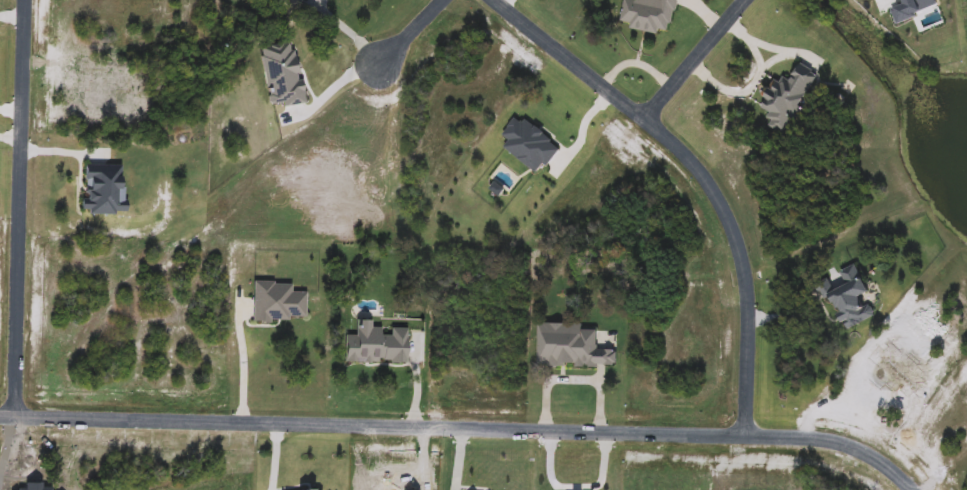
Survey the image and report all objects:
building: (647, 15)
road: (407, 33)
road: (694, 59)
road: (329, 85)
road: (701, 175)
road: (18, 209)
road: (238, 370)
road: (462, 429)

